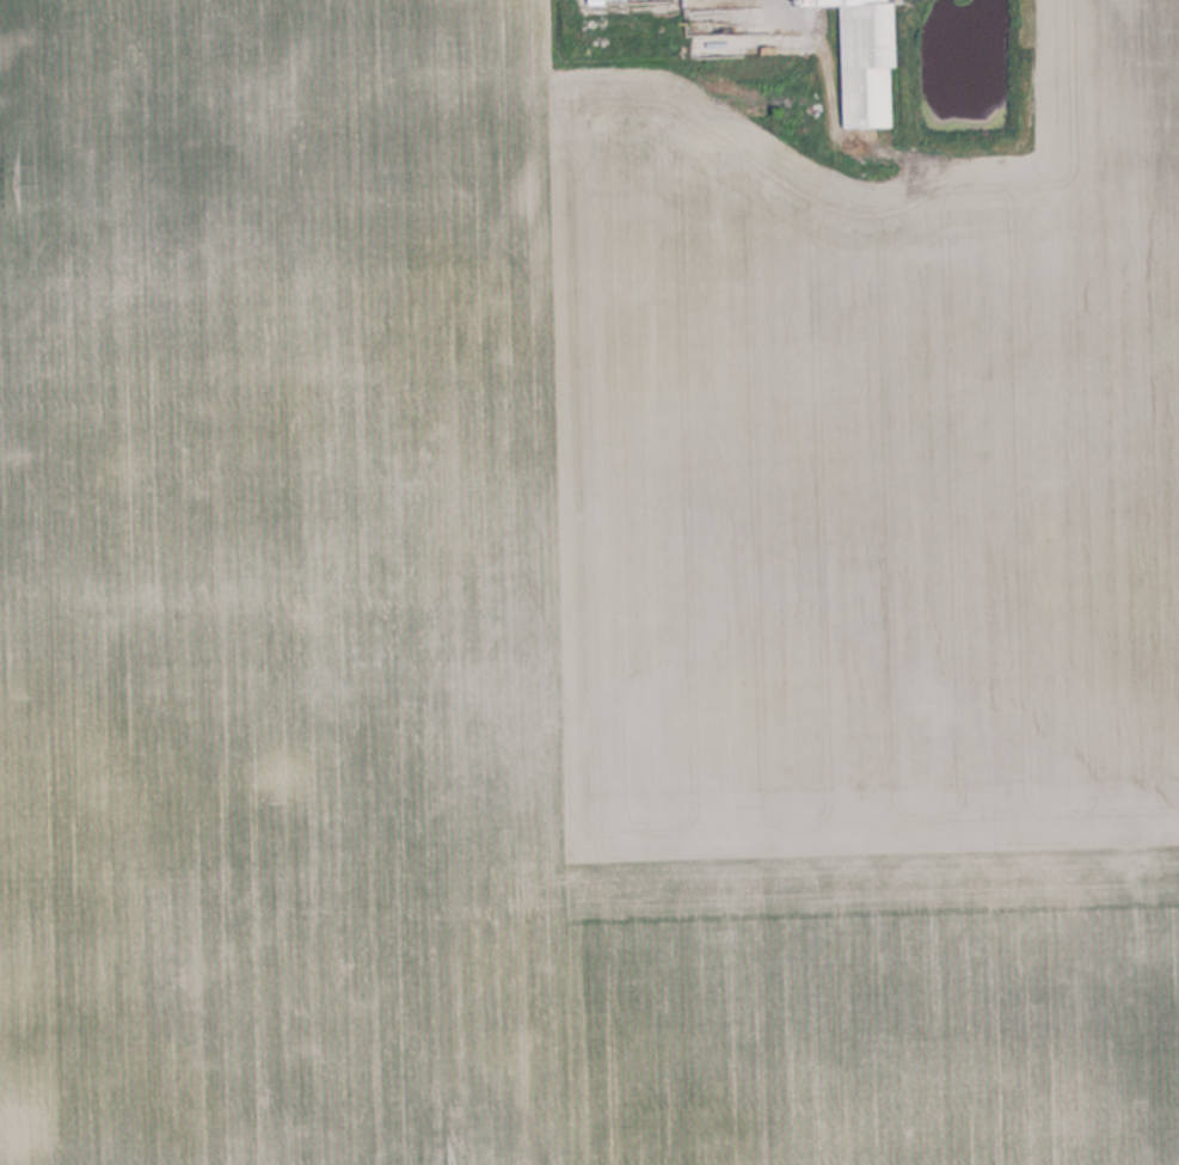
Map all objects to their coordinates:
building: (601, 6)
building: (864, 62)

